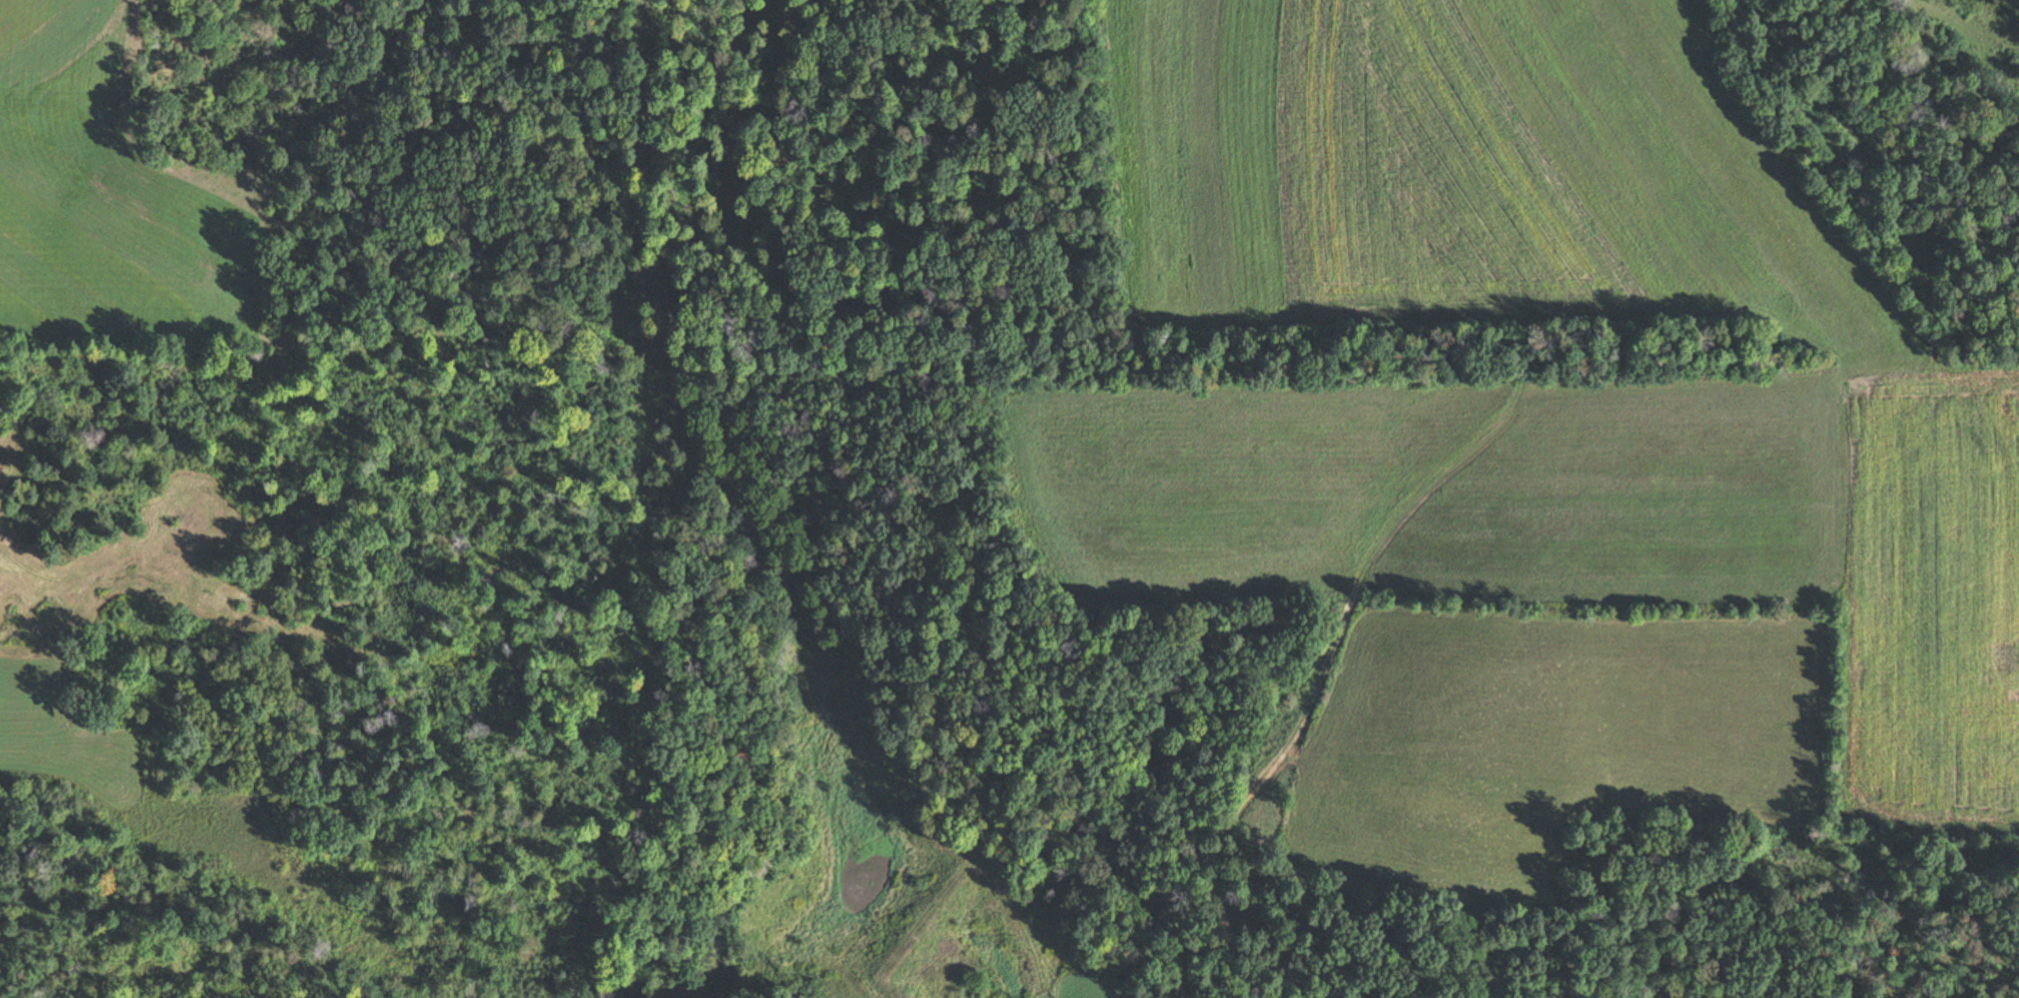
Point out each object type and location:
crop: (1462, 172)
crop: (114, 194)
crop: (1438, 485)
crop: (1925, 597)
crop: (1539, 742)
crop: (171, 798)
dam: (897, 914)

